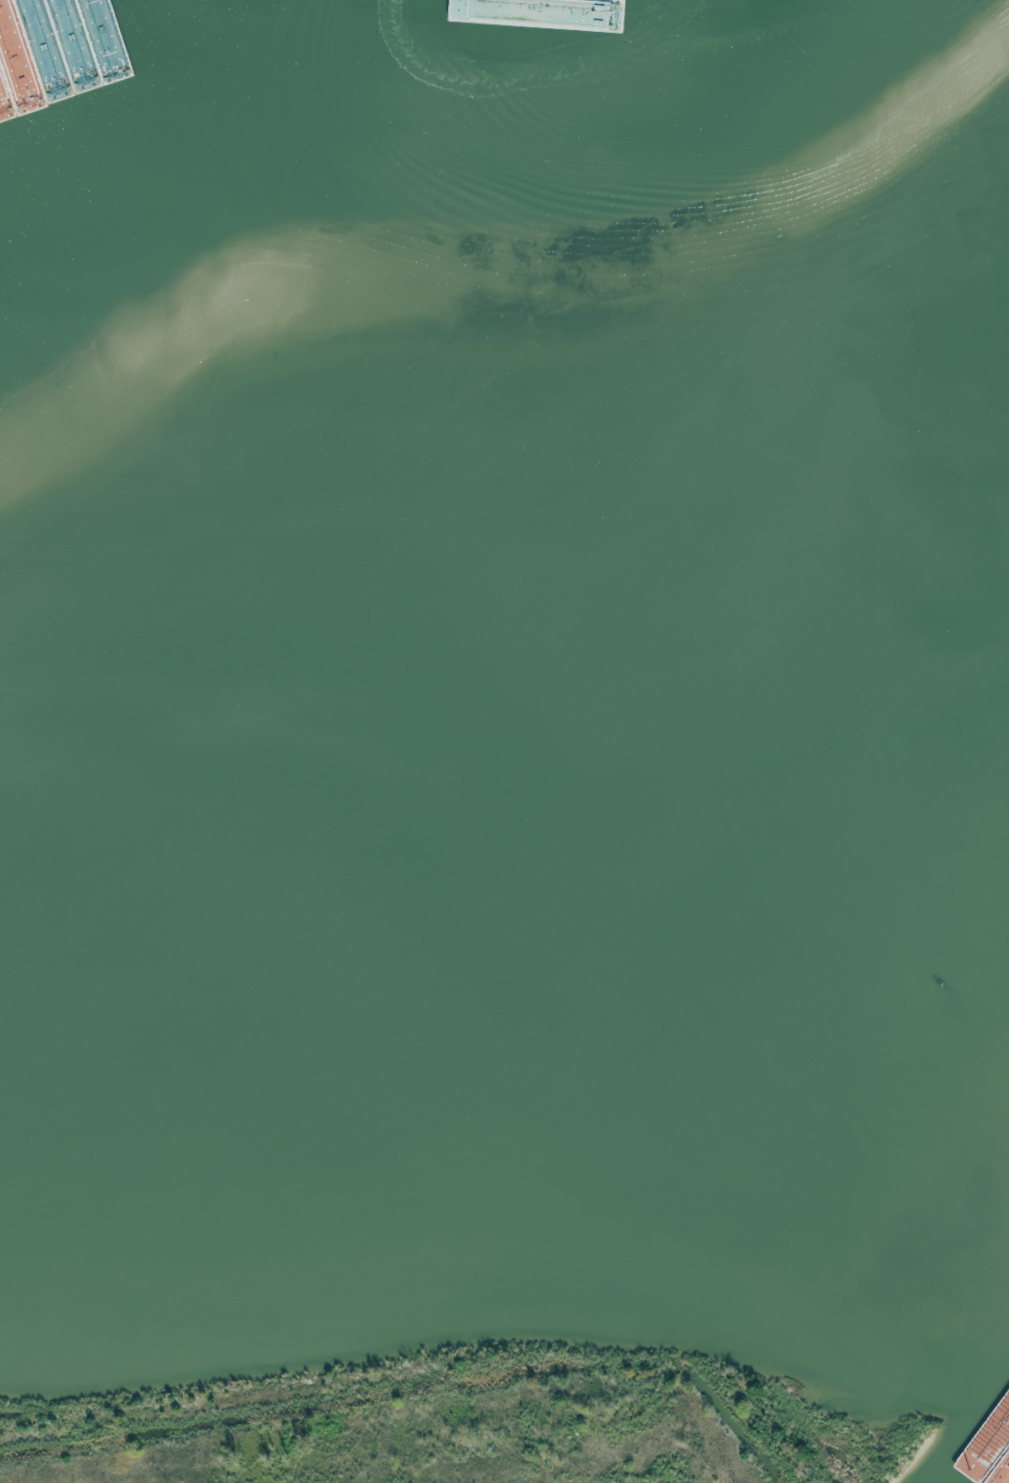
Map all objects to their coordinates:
landfill: (449, 1433)

